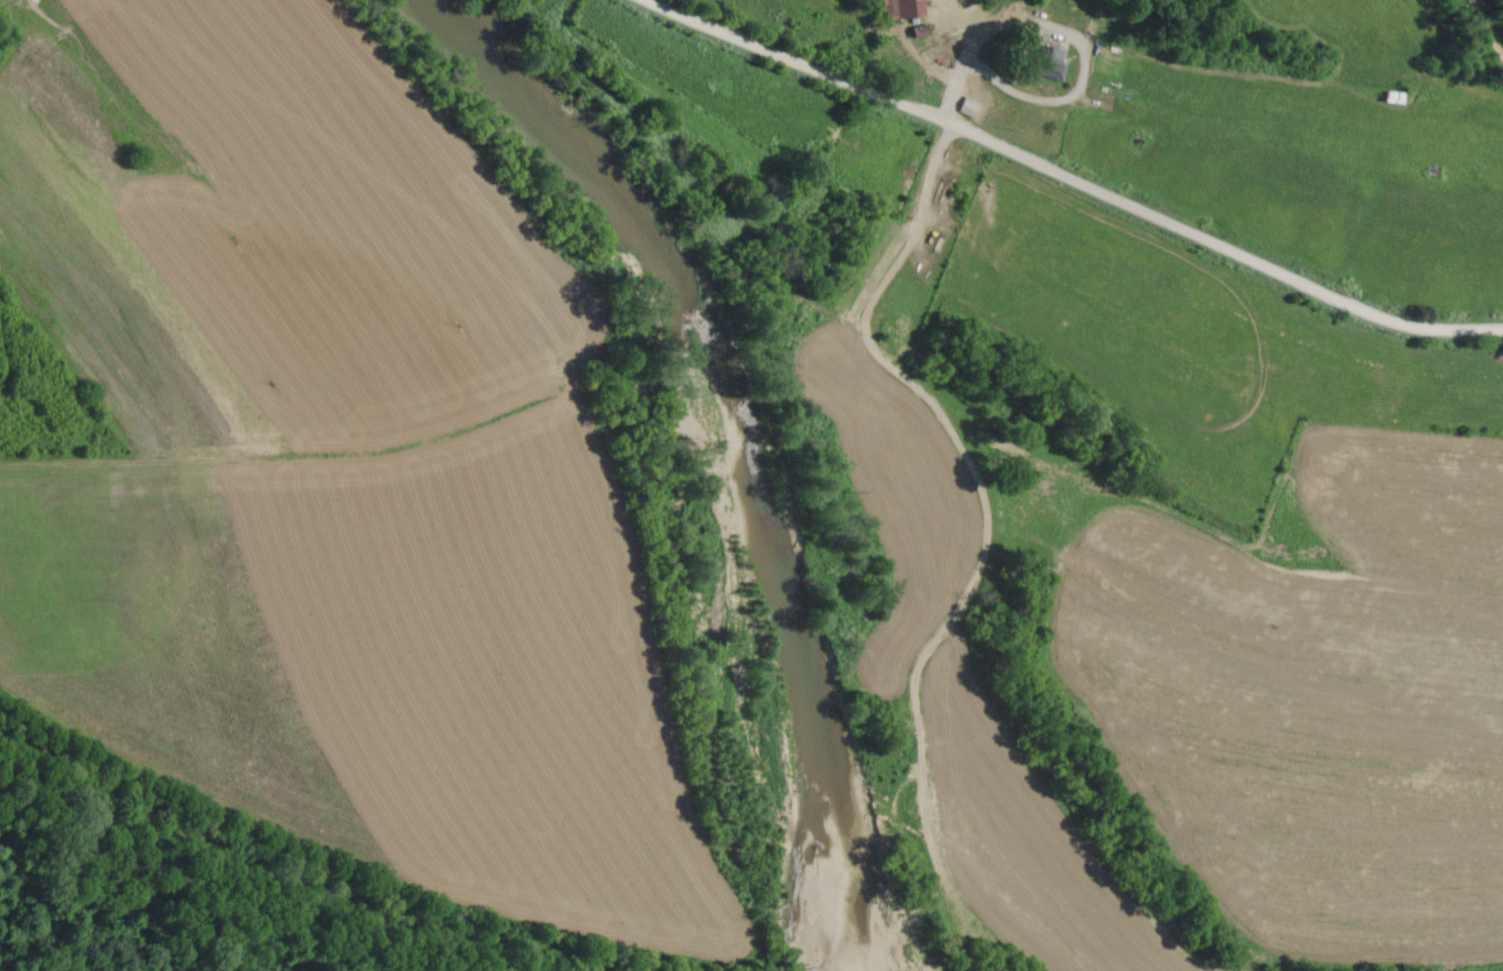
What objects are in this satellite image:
road: (951, 56)
building: (966, 108)
road: (1065, 178)
crop: (1245, 438)
river: (739, 445)
crop: (324, 472)

